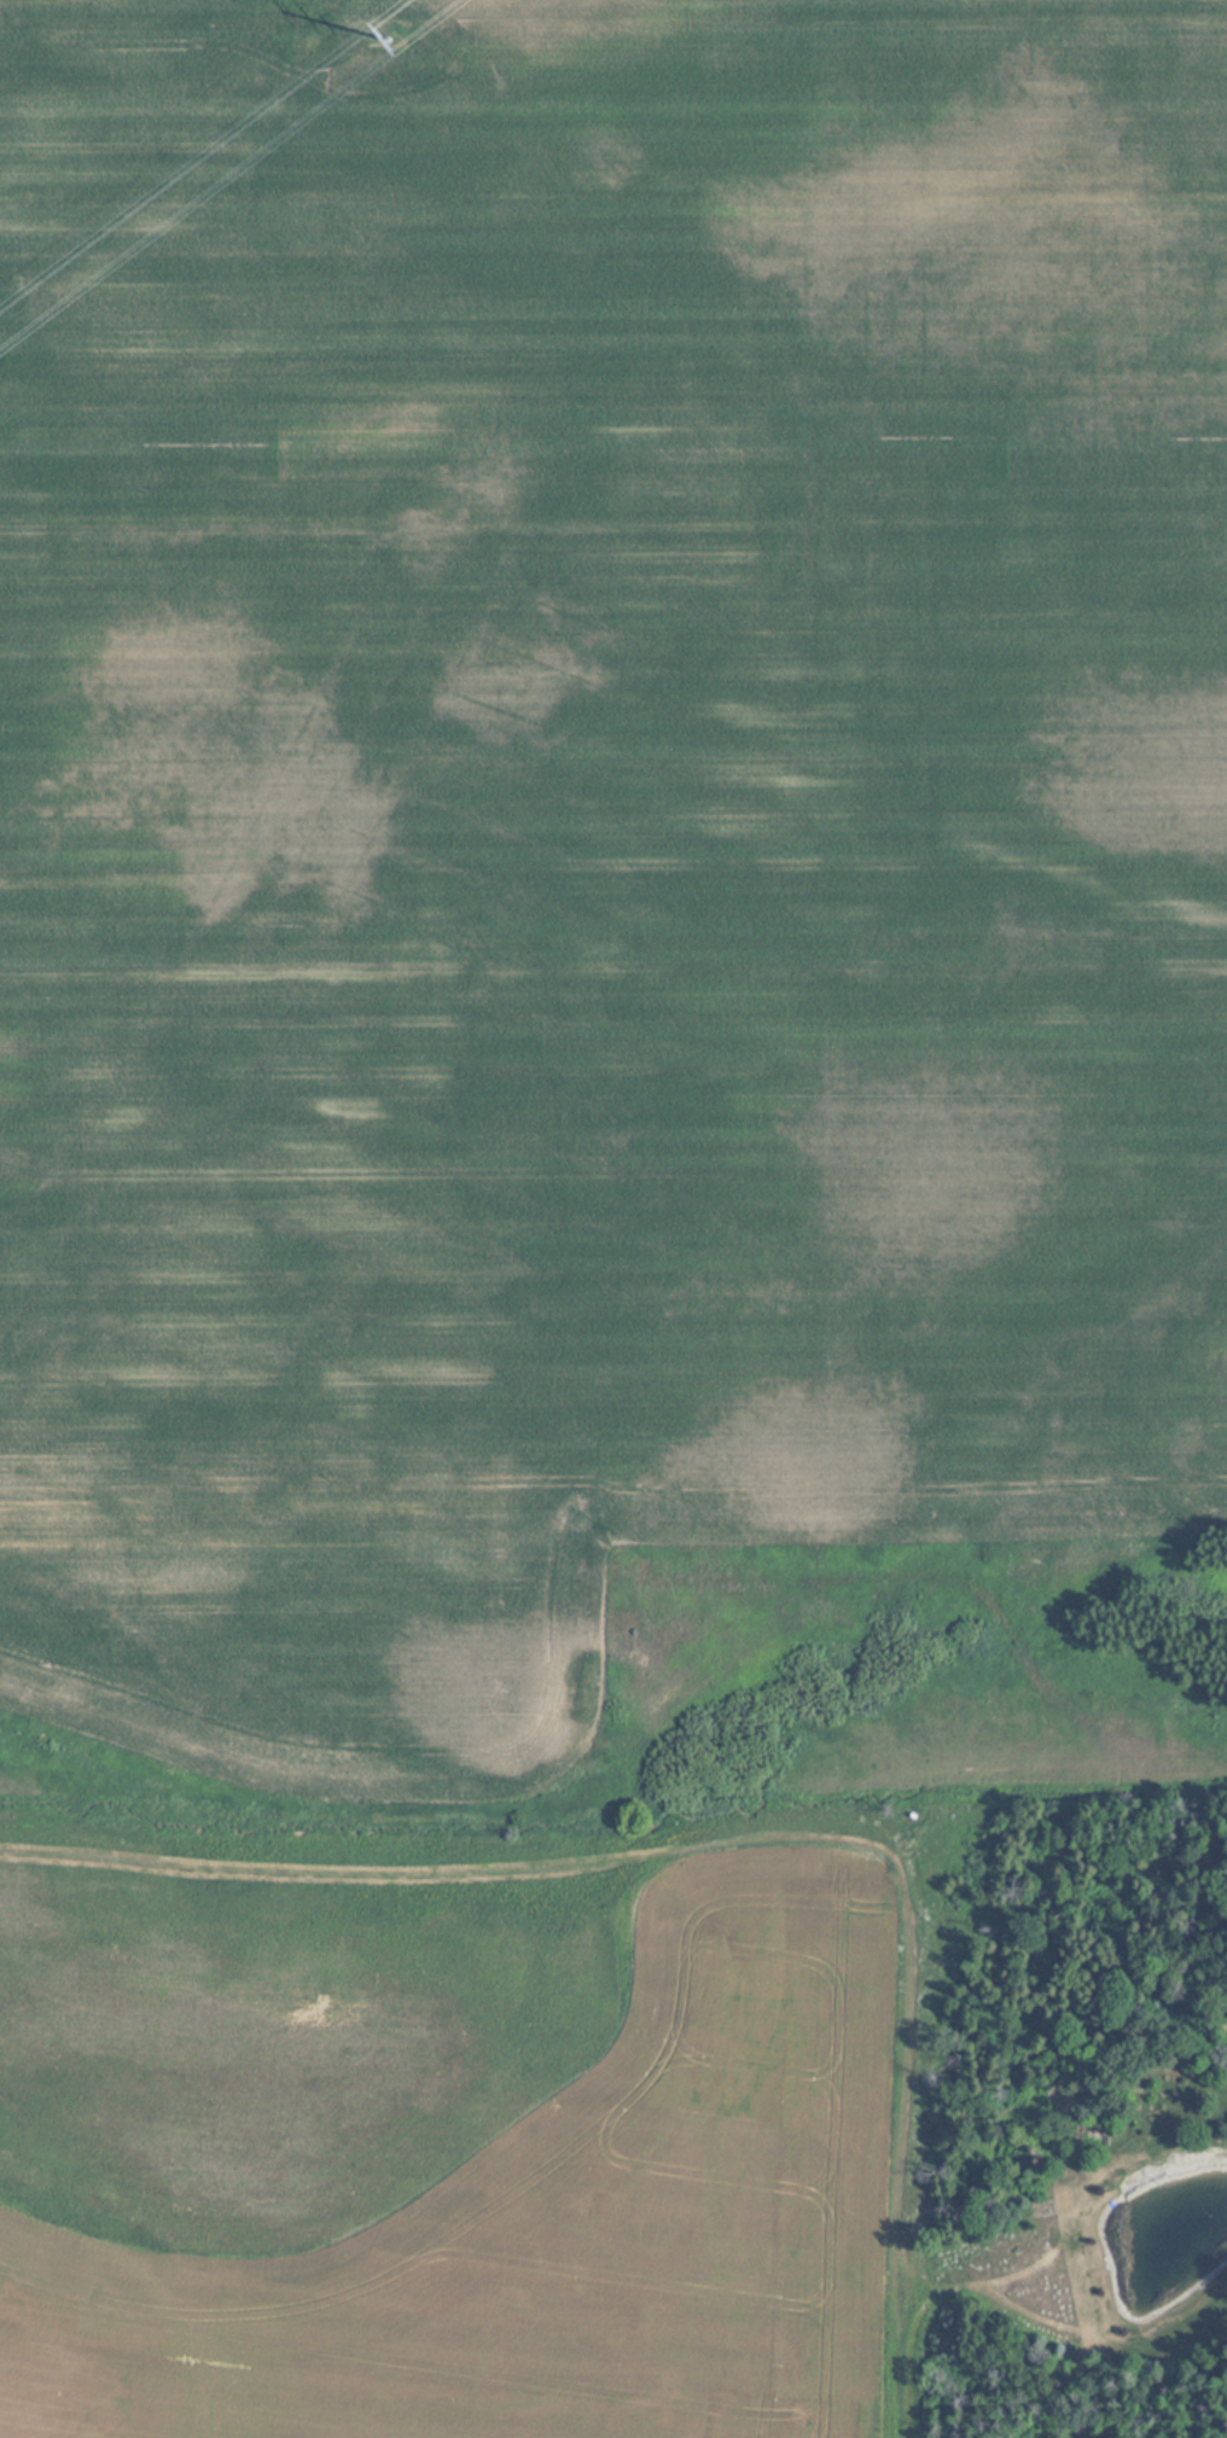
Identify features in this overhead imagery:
power tower: (406, 35)
building: (1225, 2079)

